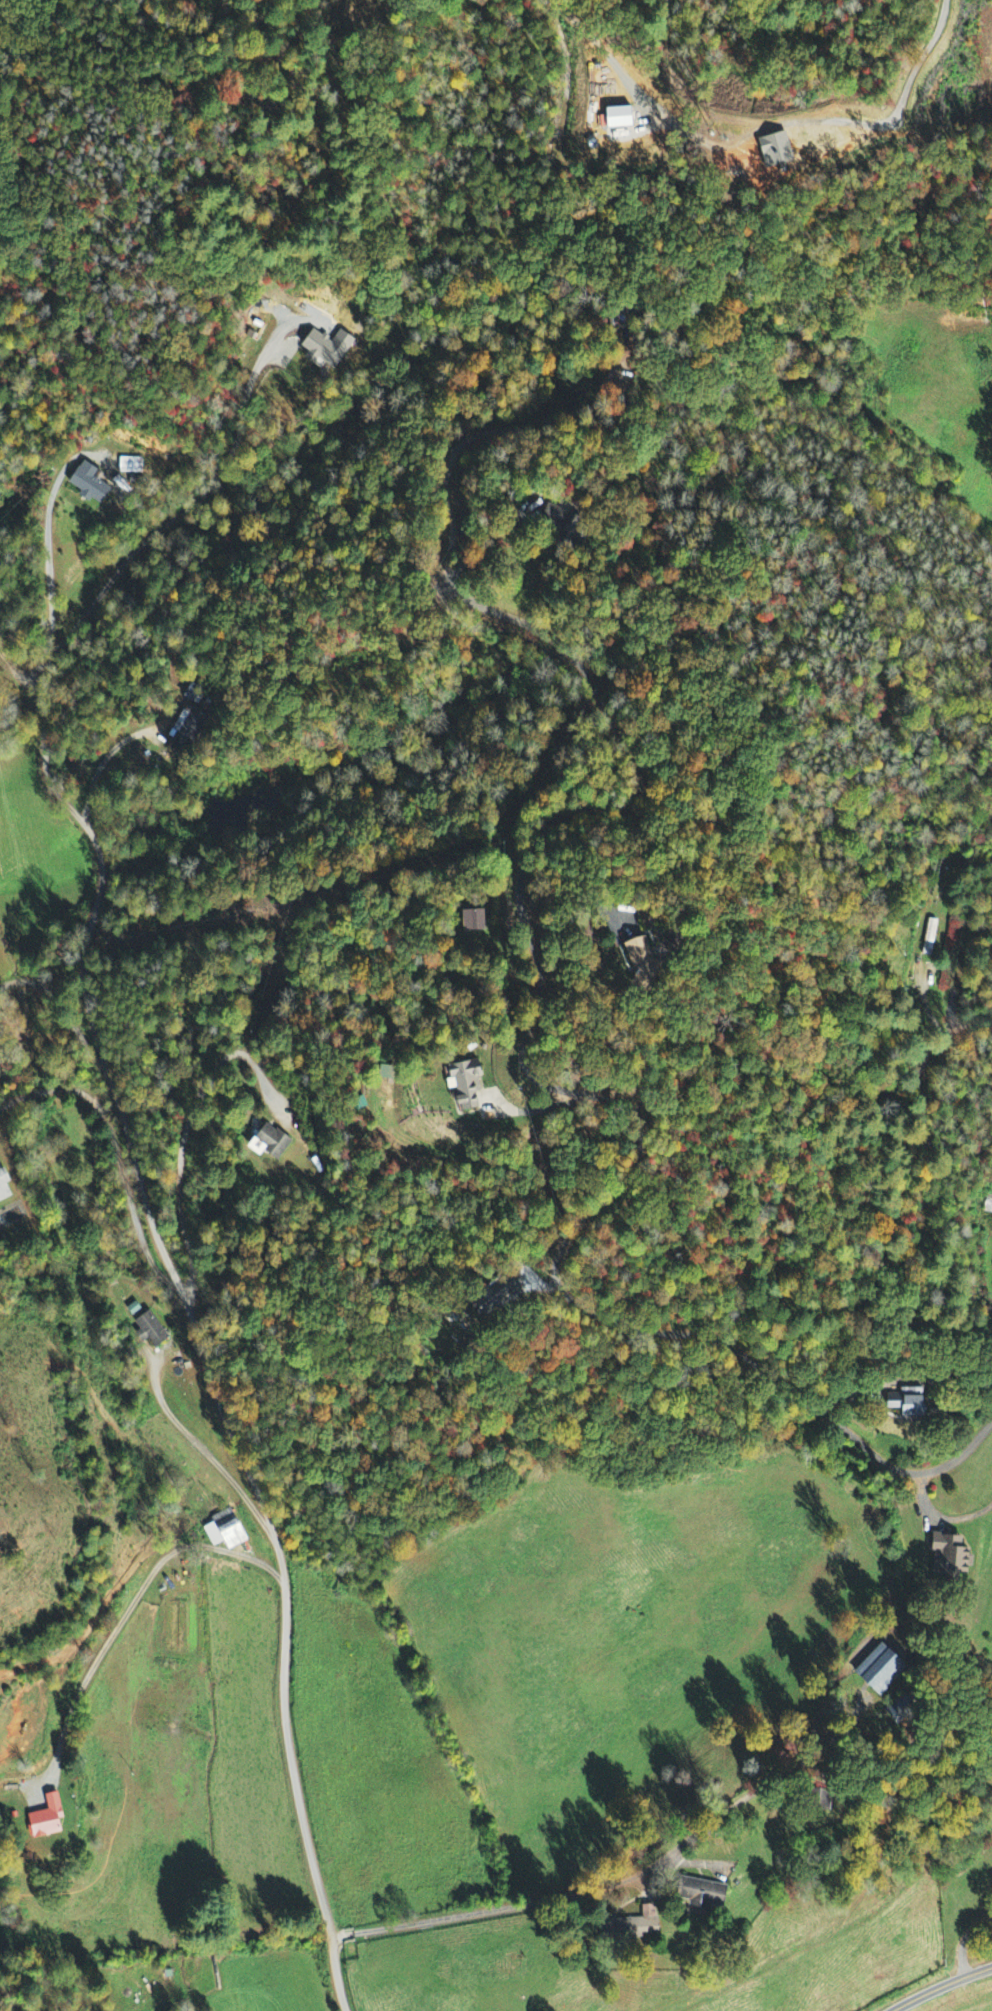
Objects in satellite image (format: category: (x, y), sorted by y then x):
building: (329, 348)
building: (132, 465)
building: (90, 482)
building: (559, 517)
road: (44, 576)
building: (189, 731)
building: (473, 920)
building: (928, 938)
building: (646, 961)
road: (60, 1018)
building: (466, 1085)
building: (273, 1143)
building: (5, 1187)
building: (989, 1205)
building: (499, 1296)
road: (184, 1323)
building: (151, 1330)
road: (739, 1364)
building: (907, 1402)
road: (957, 1459)
road: (948, 1522)
building: (226, 1531)
building: (942, 1557)
building: (865, 1670)
building: (50, 1819)
road: (613, 1882)
building: (695, 1894)
building: (630, 1924)
road: (940, 1986)

